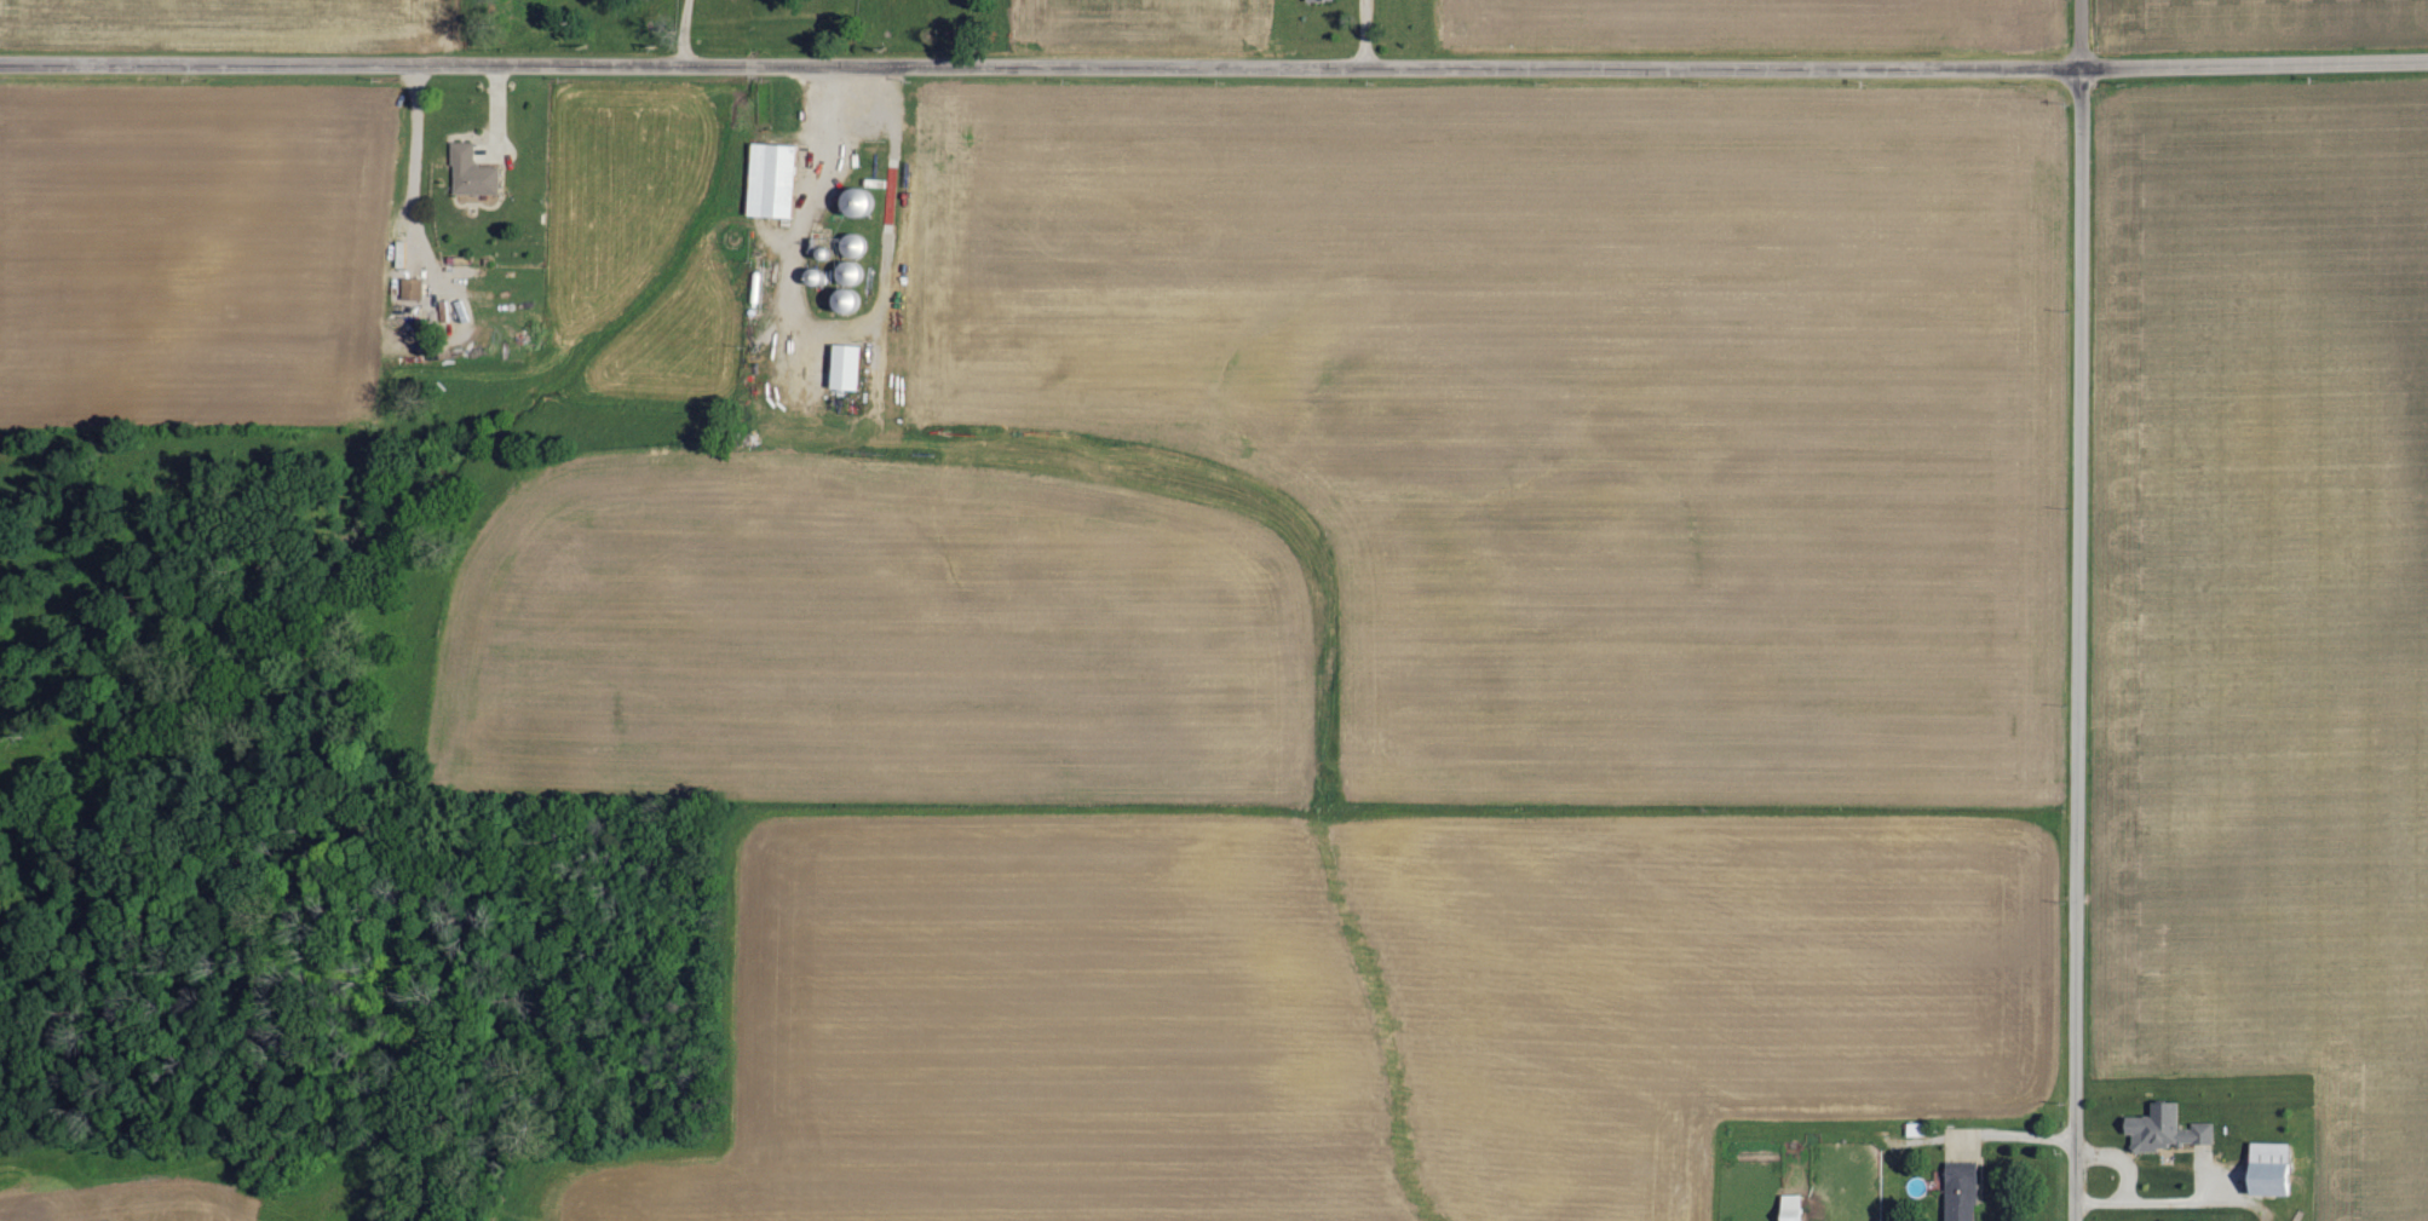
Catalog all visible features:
building: (1318, 1)
road: (1214, 65)
building: (471, 172)
building: (769, 180)
building: (855, 203)
building: (410, 289)
building: (844, 367)
crop: (2267, 605)
road: (2081, 610)
building: (2164, 1128)
building: (2271, 1168)
building: (1958, 1192)

